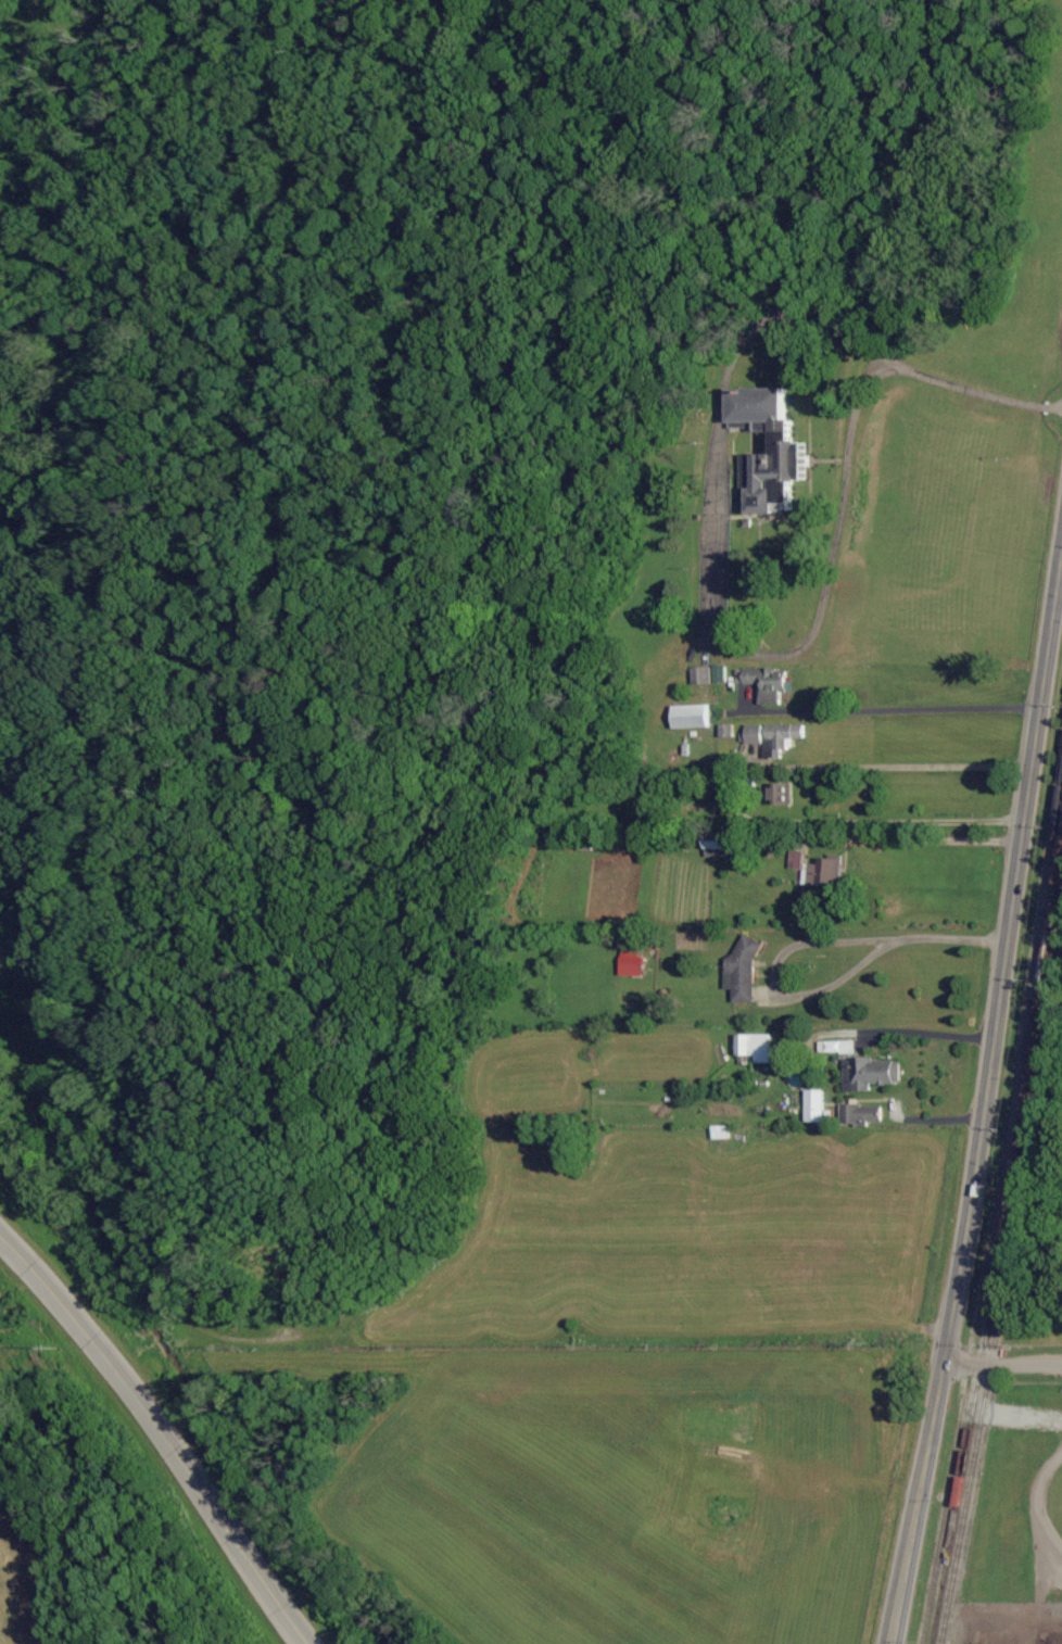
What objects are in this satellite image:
road: (974, 391)
building: (788, 446)
road: (709, 603)
building: (719, 673)
building: (700, 674)
building: (767, 682)
road: (887, 708)
building: (690, 716)
building: (754, 734)
building: (782, 736)
road: (910, 766)
building: (781, 793)
road: (921, 834)
building: (715, 846)
building: (818, 877)
road: (807, 945)
building: (630, 962)
building: (742, 971)
building: (754, 1046)
building: (836, 1046)
building: (871, 1073)
road: (985, 1093)
building: (813, 1105)
building: (859, 1114)
building: (720, 1131)
railway: (990, 1192)
railway: (997, 1235)
railway: (1004, 1274)
road: (1004, 1365)
road: (165, 1428)

